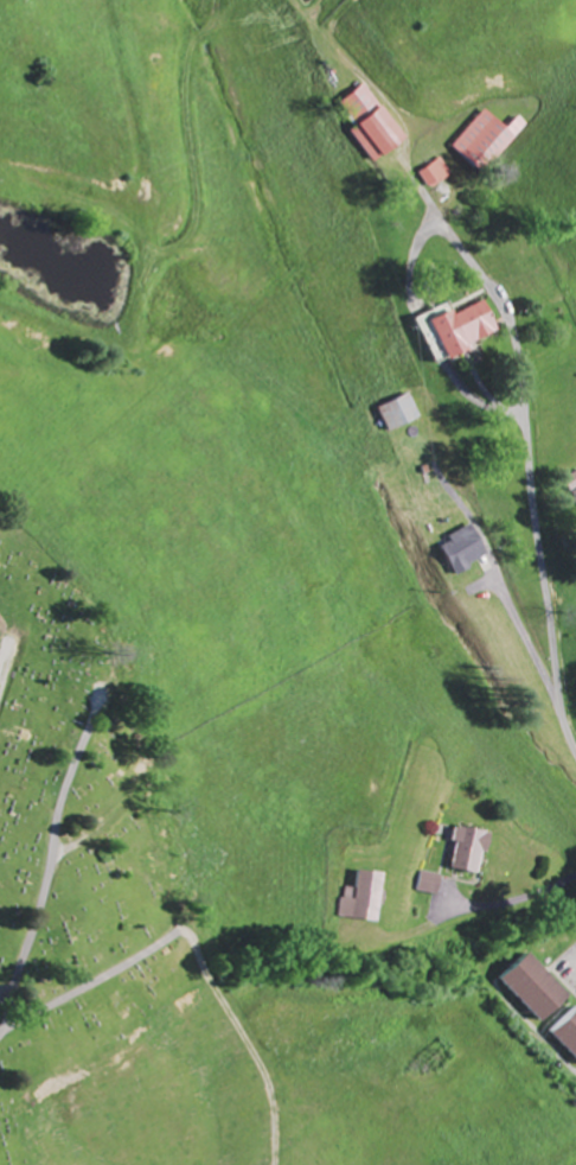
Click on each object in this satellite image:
building: (376, 126)
building: (492, 139)
building: (437, 176)
building: (466, 330)
building: (403, 413)
building: (466, 549)
park: (75, 843)
building: (472, 849)
road: (49, 861)
building: (431, 884)
building: (364, 897)
road: (575, 955)
building: (543, 988)
building: (570, 1031)

